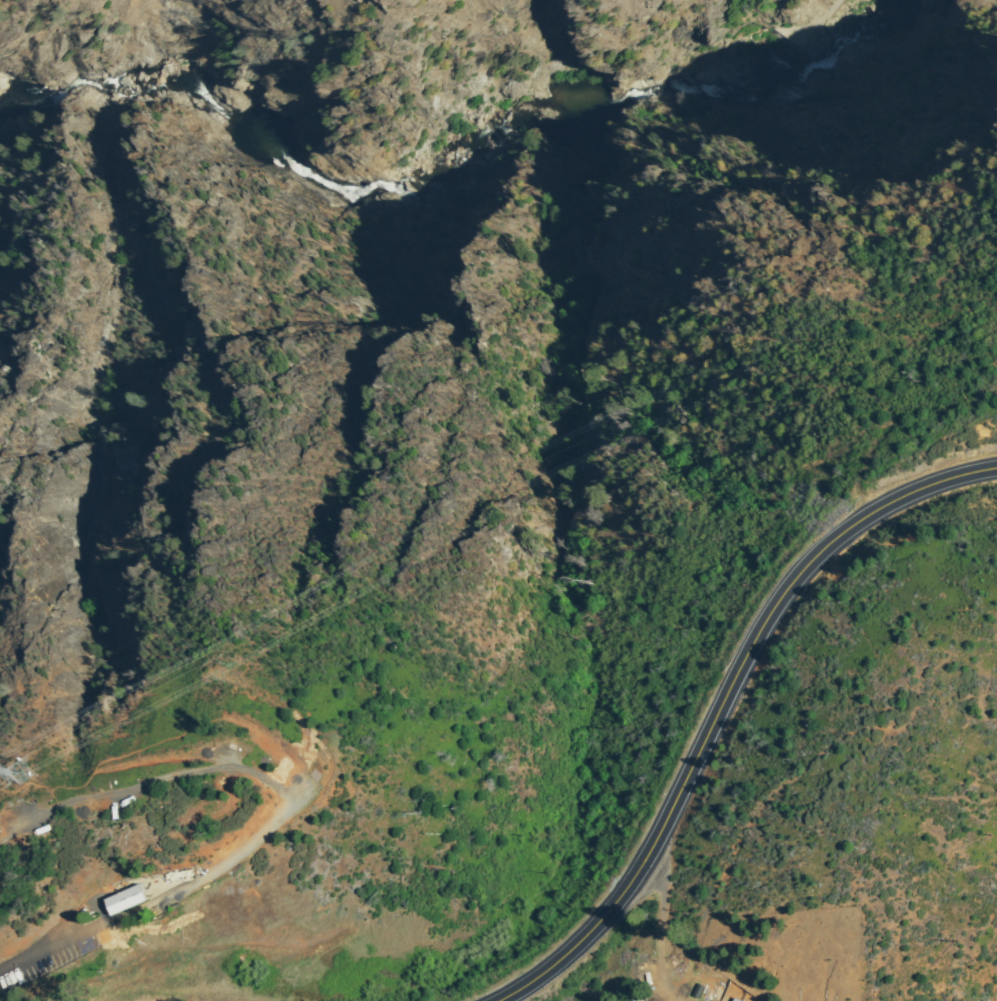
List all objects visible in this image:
mineshaft: (814, 19)
road: (771, 23)
road: (812, 25)
road: (789, 29)
road: (824, 29)
river: (461, 146)
road: (719, 700)
power tower: (4, 777)
road: (286, 807)
building: (178, 875)
building: (134, 895)
road: (657, 925)
building: (699, 991)
building: (718, 994)
building: (707, 995)

